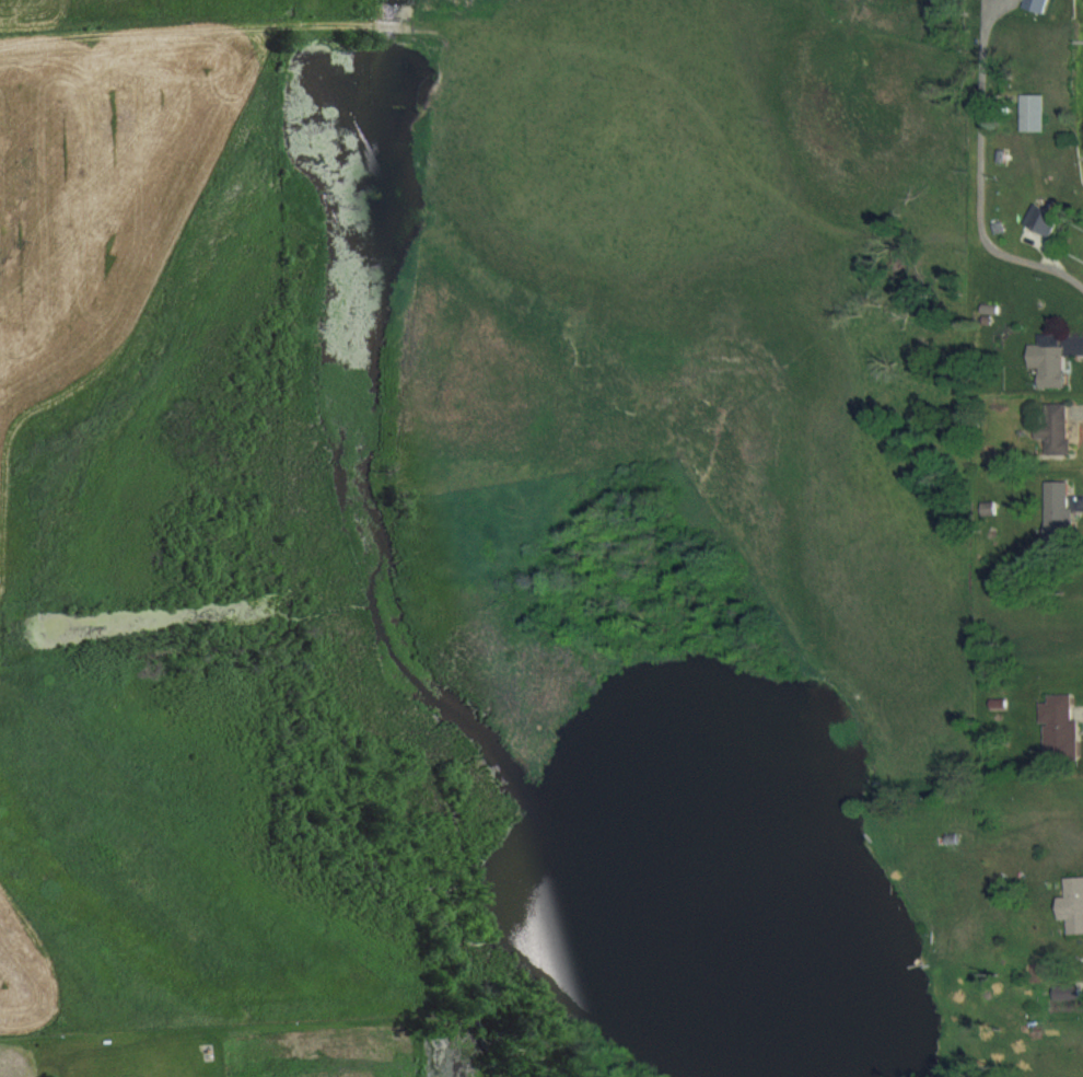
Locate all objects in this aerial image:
building: (1038, 4)
building: (1030, 112)
road: (981, 187)
building: (1040, 219)
building: (1051, 359)
building: (1056, 427)
building: (1060, 510)
building: (1059, 723)
building: (1074, 904)

